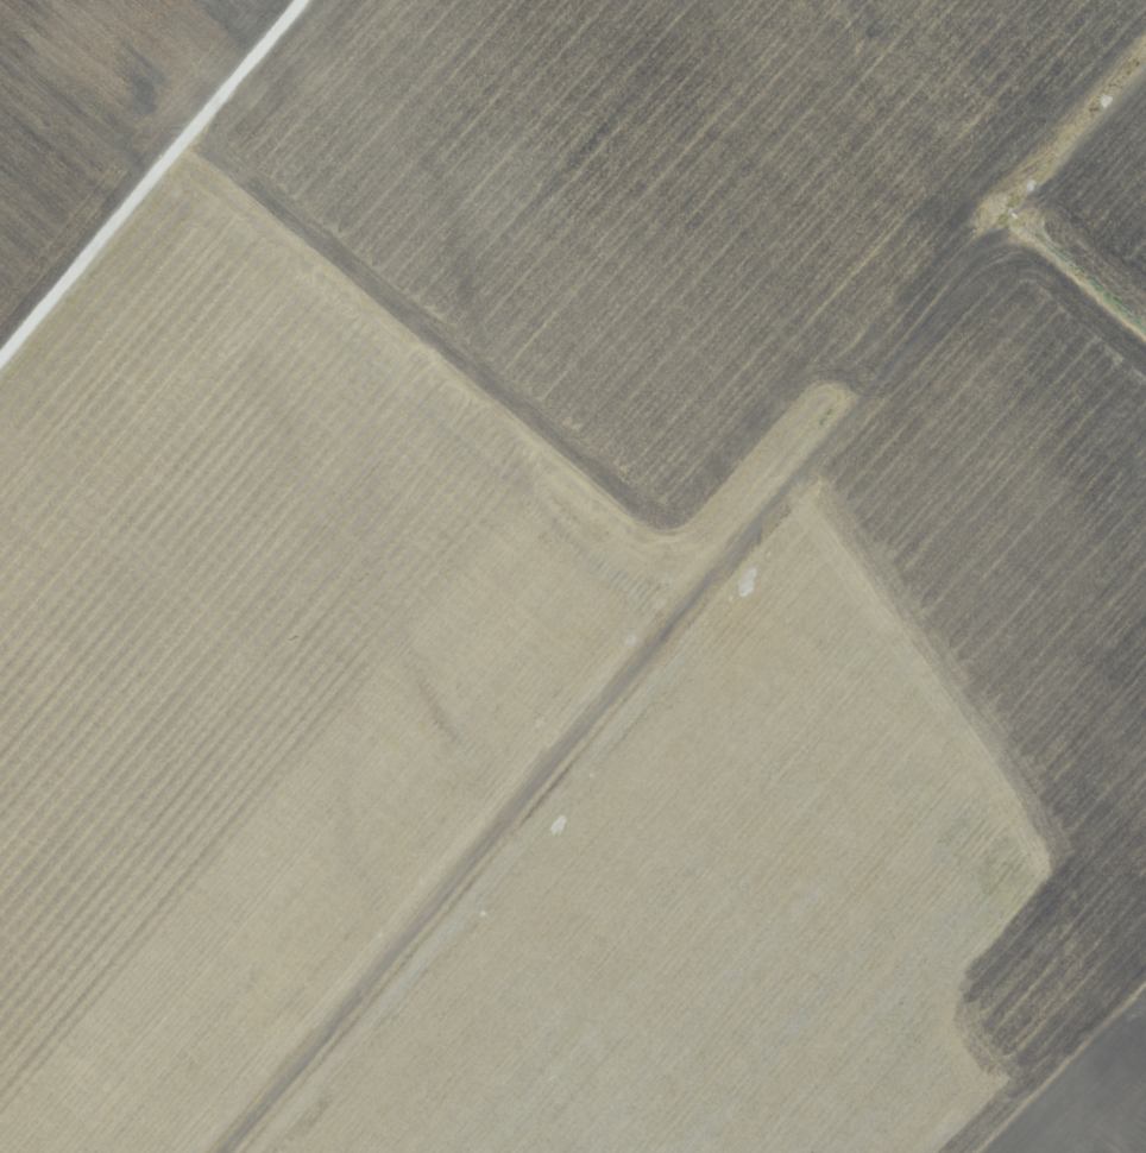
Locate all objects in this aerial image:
road: (695, 617)
road: (654, 1019)

